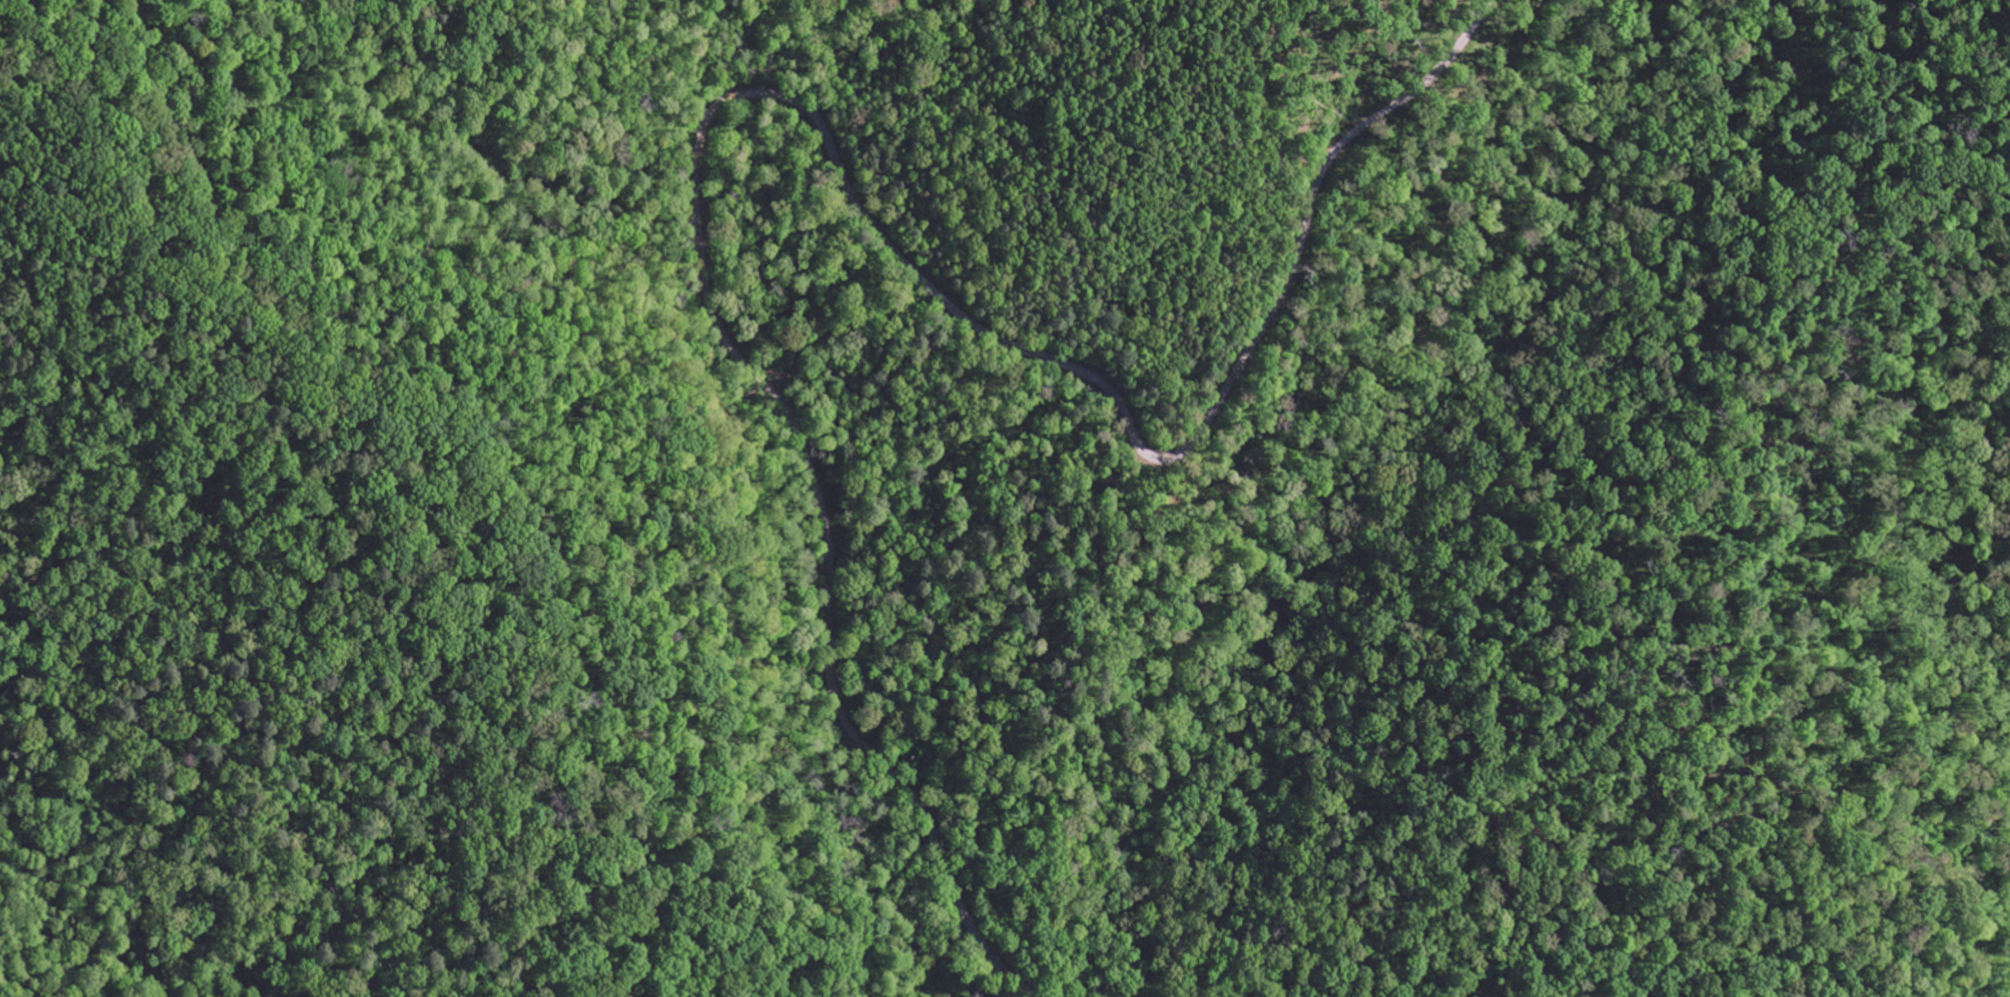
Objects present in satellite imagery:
road: (810, 113)

